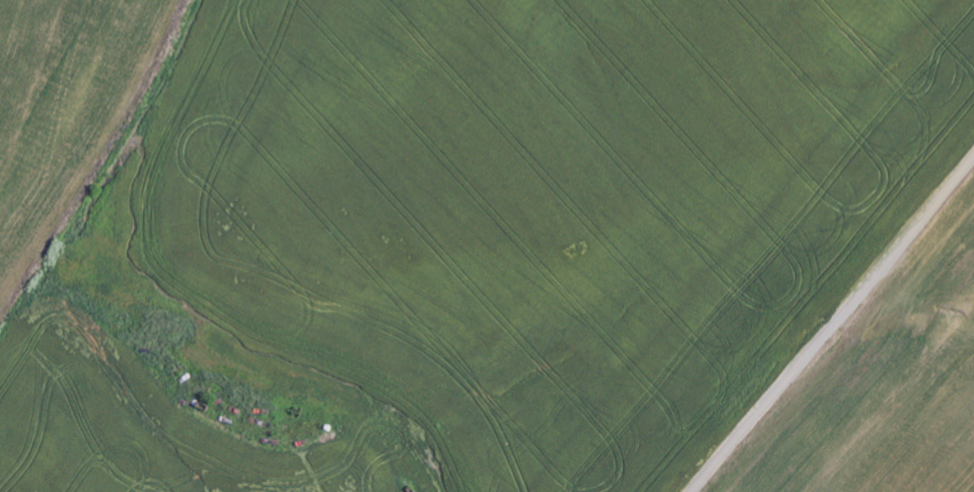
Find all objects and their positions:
road: (830, 322)

